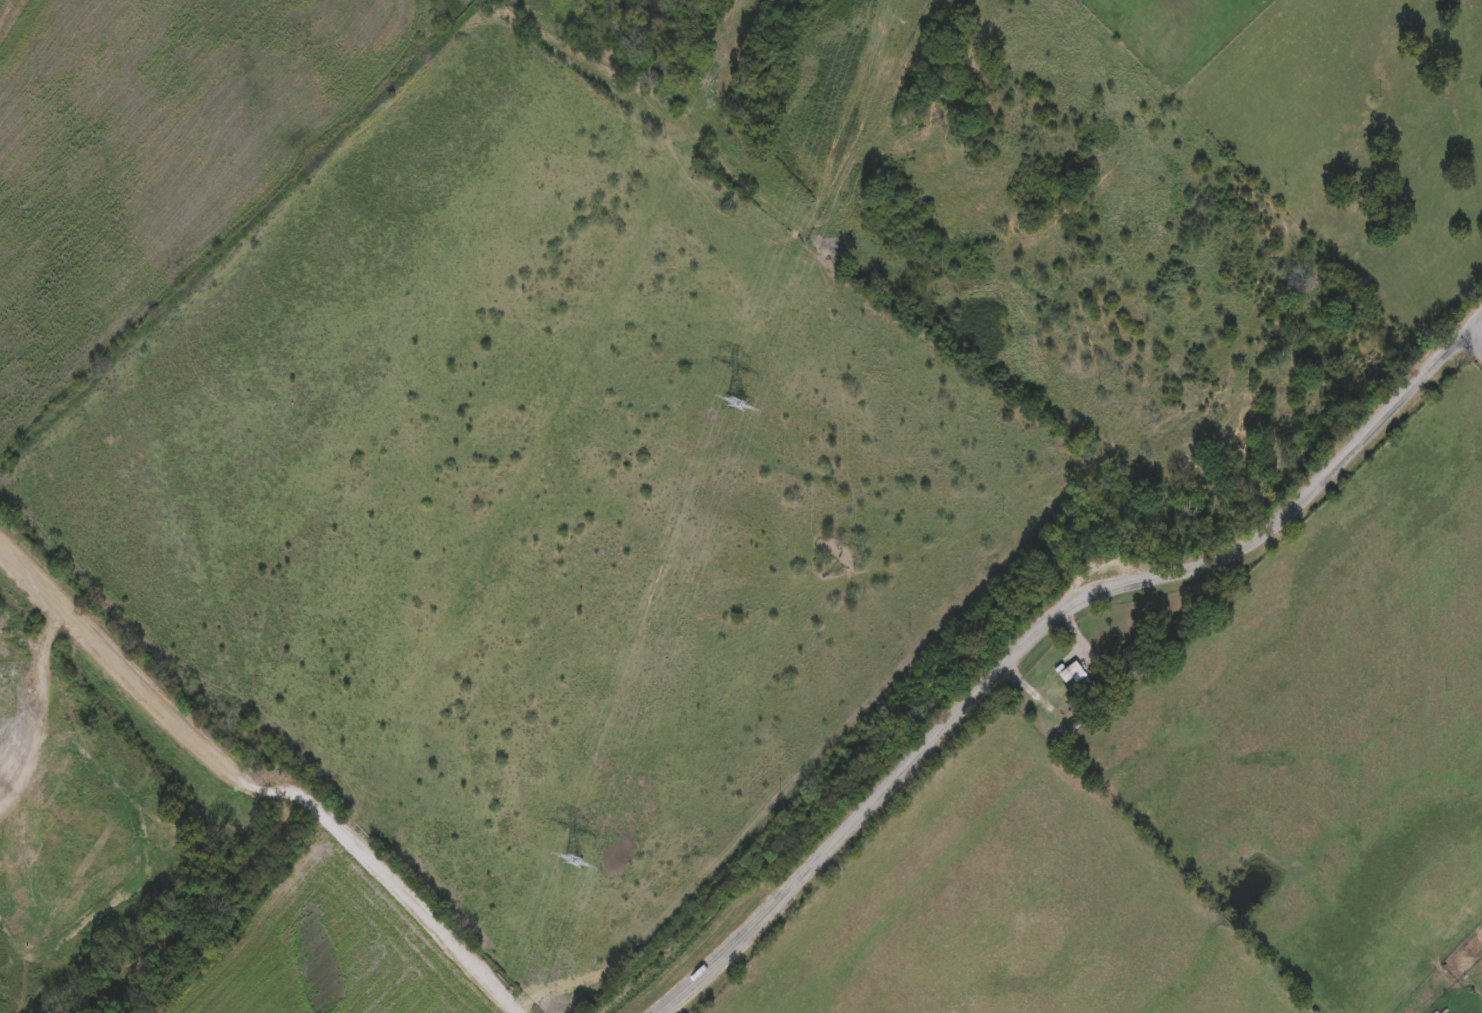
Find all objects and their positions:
road: (1473, 342)
power tower: (731, 402)
road: (1049, 623)
road: (266, 782)
power tower: (571, 860)
building: (1456, 926)

